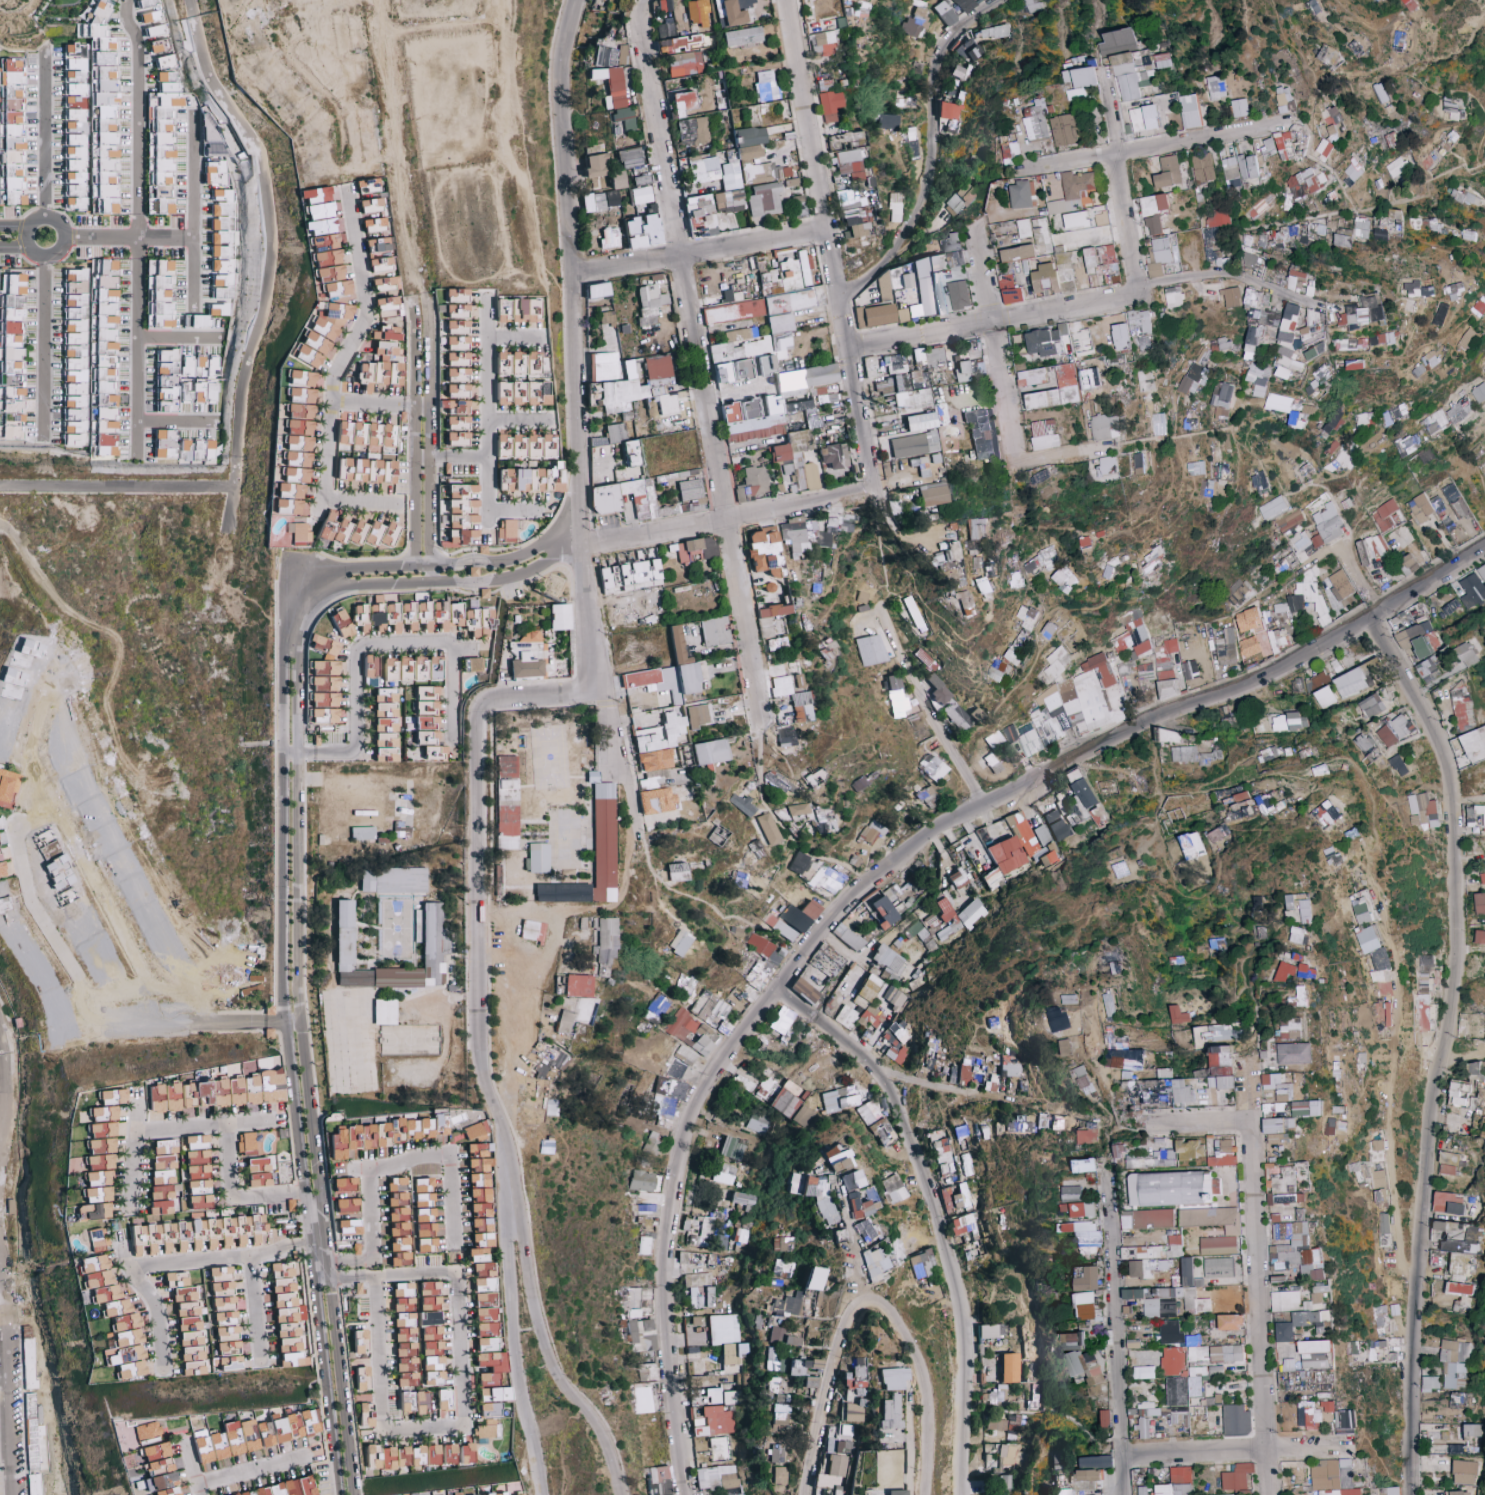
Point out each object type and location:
building: (1377, 0)
building: (663, 5)
building: (1033, 5)
building: (952, 10)
building: (150, 11)
building: (731, 11)
building: (697, 13)
building: (913, 24)
building: (156, 31)
building: (664, 31)
building: (994, 32)
building: (742, 37)
building: (678, 44)
building: (822, 44)
building: (968, 49)
building: (622, 54)
building: (604, 56)
building: (1330, 56)
building: (1132, 62)
building: (684, 63)
building: (958, 72)
building: (1082, 80)
building: (610, 86)
building: (823, 86)
building: (765, 87)
building: (1216, 87)
building: (1381, 92)
building: (1287, 99)
building: (682, 103)
building: (828, 106)
building: (1240, 107)
building: (1452, 109)
building: (1190, 111)
building: (951, 114)
building: (92, 115)
building: (1336, 115)
building: (1145, 117)
building: (624, 118)
building: (886, 121)
building: (1040, 121)
building: (163, 128)
building: (1066, 130)
building: (692, 131)
building: (12, 132)
building: (1334, 132)
building: (211, 137)
building: (748, 137)
building: (840, 141)
building: (909, 142)
building: (1285, 143)
building: (1270, 145)
building: (1326, 147)
building: (748, 153)
building: (629, 158)
building: (847, 164)
building: (594, 166)
building: (1249, 166)
building: (1397, 167)
building: (1203, 168)
building: (703, 169)
building: (1169, 171)
building: (1353, 171)
building: (1231, 172)
building: (759, 173)
building: (216, 174)
building: (730, 174)
building: (617, 180)
building: (640, 181)
building: (790, 182)
building: (1305, 182)
building: (367, 186)
building: (1021, 194)
building: (640, 195)
building: (611, 198)
building: (764, 200)
building: (959, 200)
building: (727, 201)
building: (592, 203)
building: (797, 207)
building: (894, 208)
building: (1155, 212)
building: (849, 215)
building: (698, 216)
building: (1086, 217)
building: (642, 232)
park: (43, 236)
building: (608, 238)
building: (325, 243)
building: (222, 252)
building: (382, 265)
building: (159, 294)
park: (497, 1441)

